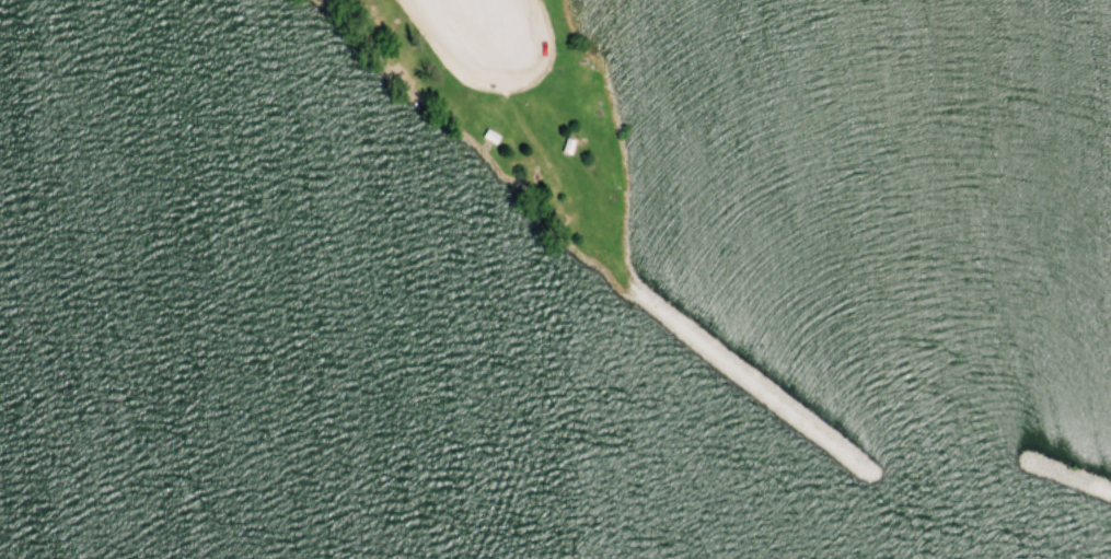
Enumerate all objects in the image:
road: (461, 13)
park: (555, 279)

